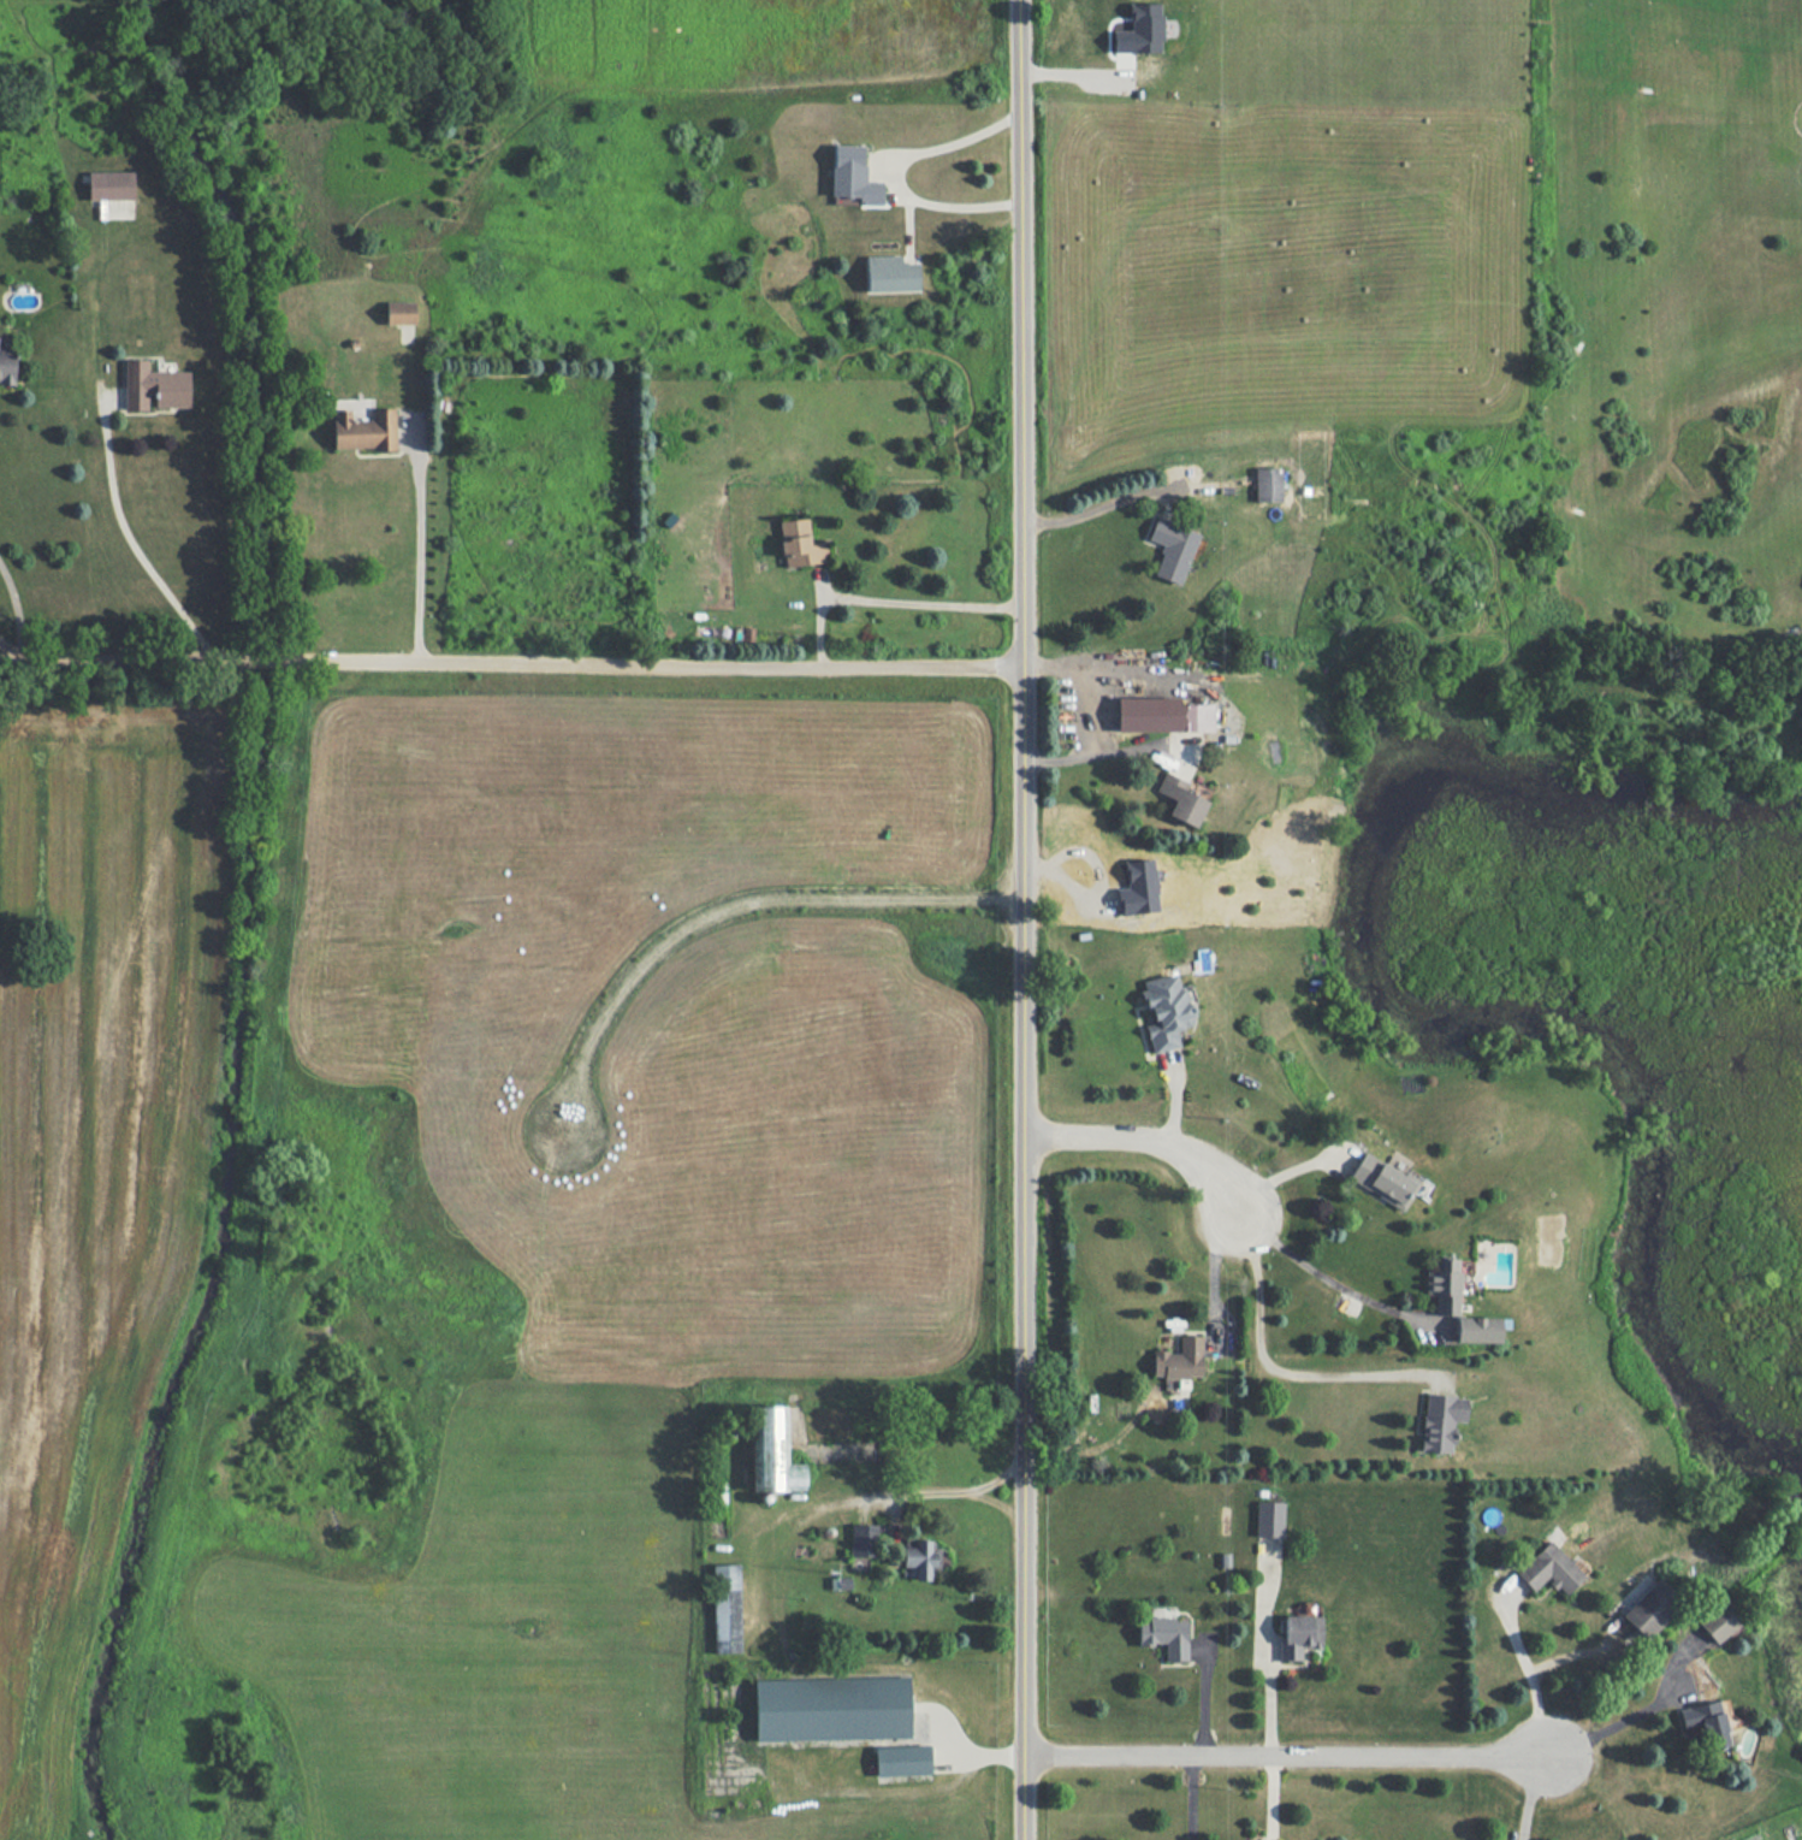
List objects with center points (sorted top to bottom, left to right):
building: (1140, 30)
building: (853, 174)
road: (899, 174)
building: (109, 187)
building: (890, 273)
building: (399, 312)
building: (7, 365)
building: (154, 386)
building: (1268, 484)
road: (1101, 505)
road: (132, 540)
building: (799, 544)
building: (1172, 549)
road: (419, 550)
road: (889, 598)
road: (17, 610)
road: (511, 662)
road: (1096, 712)
building: (1187, 716)
building: (1187, 798)
building: (1138, 888)
road: (730, 909)
road: (1025, 919)
building: (1166, 1011)
road: (1149, 1136)
building: (1382, 1181)
road: (1210, 1267)
road: (1329, 1280)
building: (1444, 1285)
building: (1476, 1329)
building: (1179, 1359)
road: (1269, 1368)
building: (1441, 1421)
building: (772, 1453)
road: (960, 1491)
building: (1269, 1519)
building: (864, 1539)
building: (920, 1558)
building: (1549, 1569)
building: (727, 1608)
building: (1650, 1608)
building: (1719, 1620)
building: (1164, 1635)
building: (1299, 1637)
road: (1529, 1672)
building: (831, 1709)
road: (1619, 1715)
building: (1706, 1722)
road: (1293, 1753)
building: (901, 1759)
road: (1531, 1793)
road: (1191, 1797)
road: (1272, 1797)

